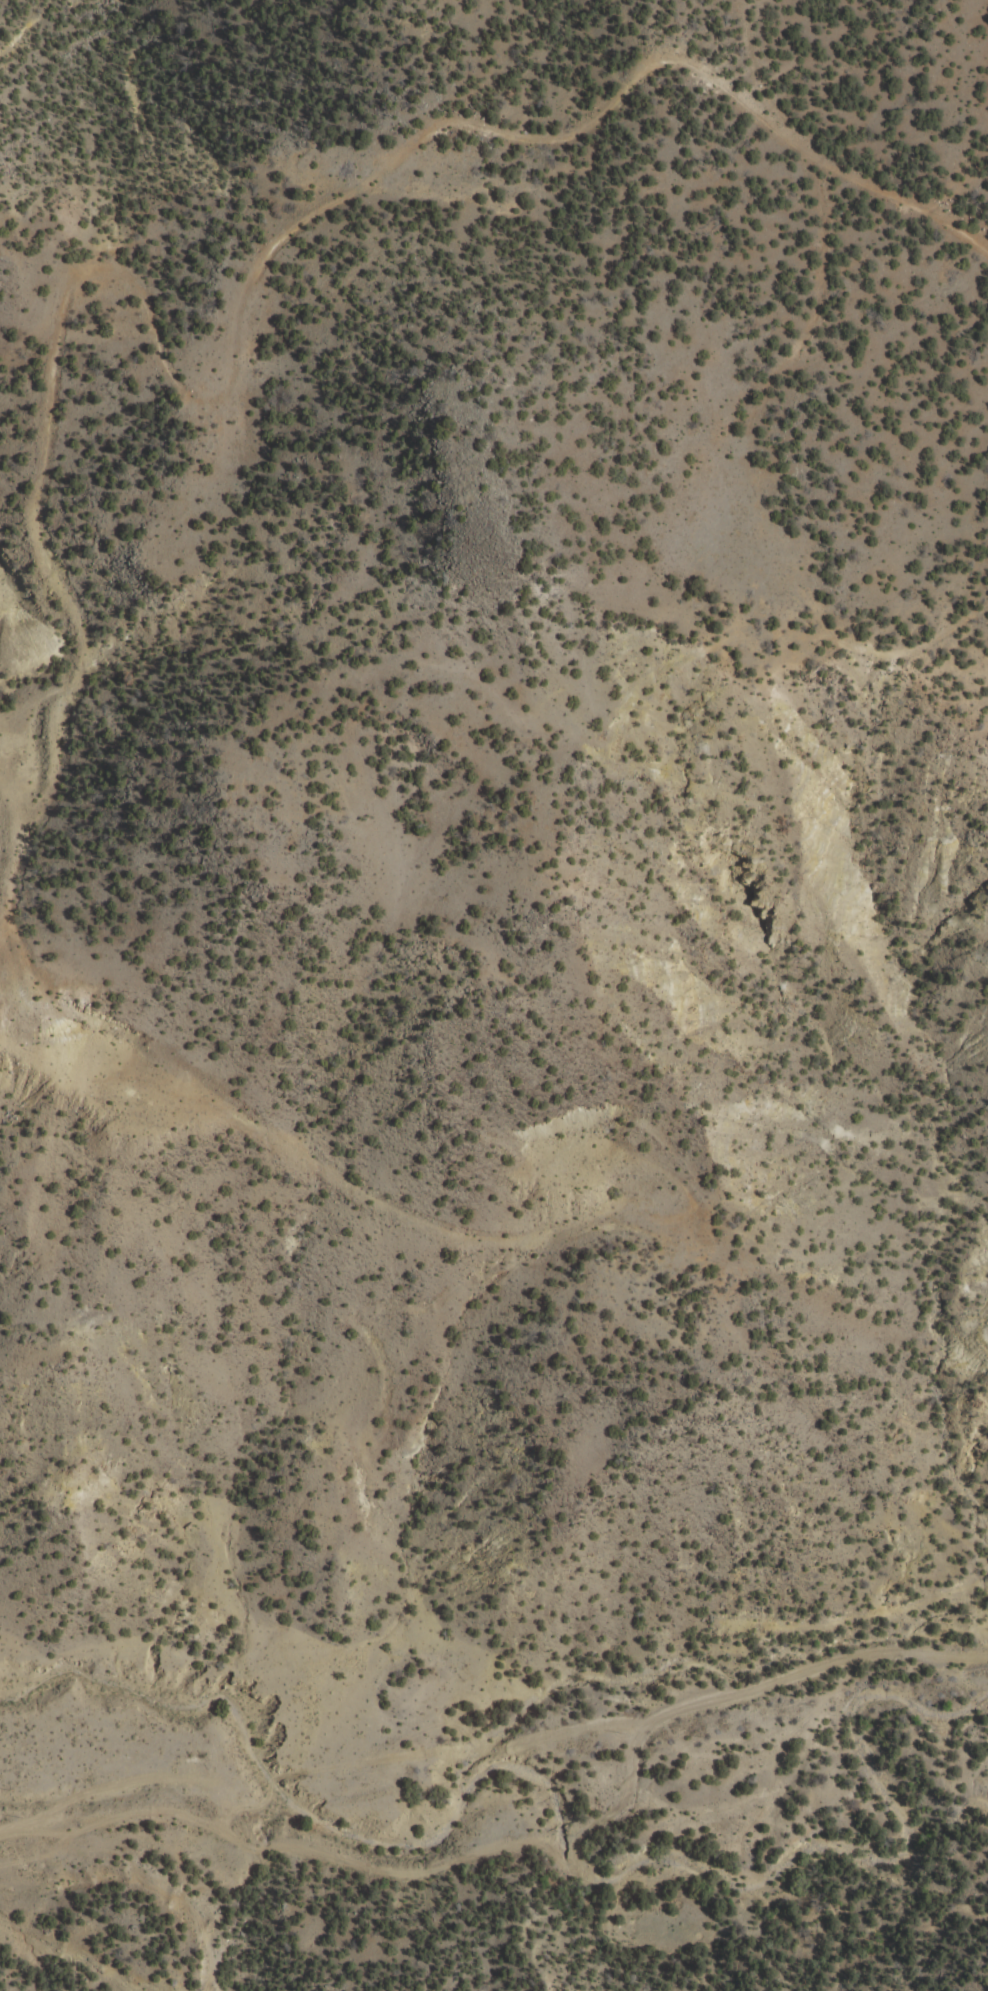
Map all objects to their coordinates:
road: (453, 92)
road: (255, 1088)
road: (509, 1863)
road: (124, 1896)

